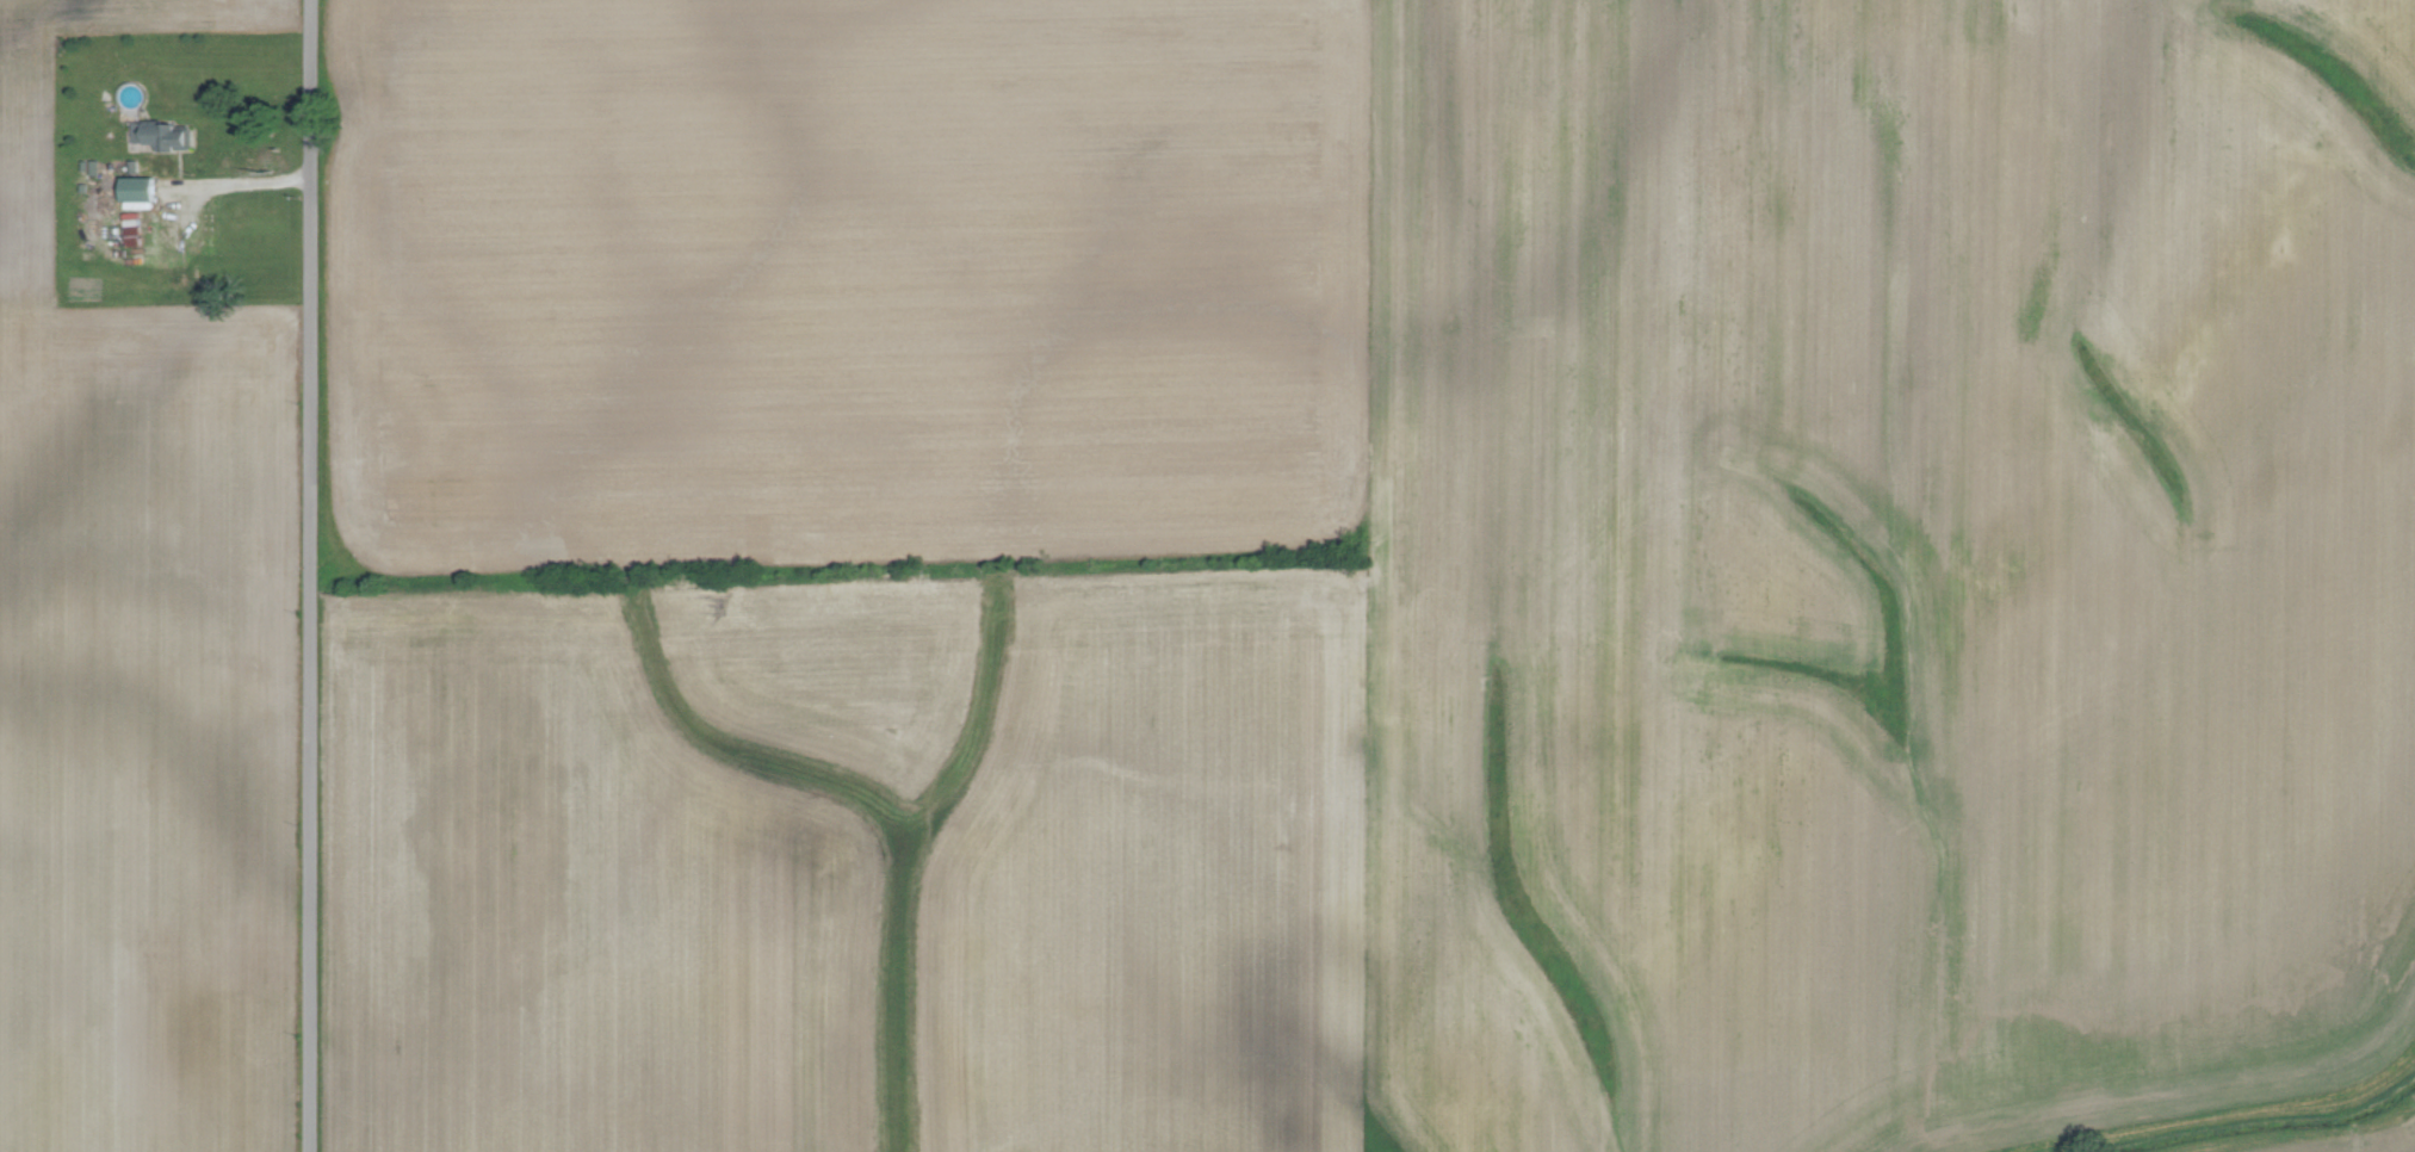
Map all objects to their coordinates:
building: (161, 131)
road: (247, 181)
road: (308, 576)

